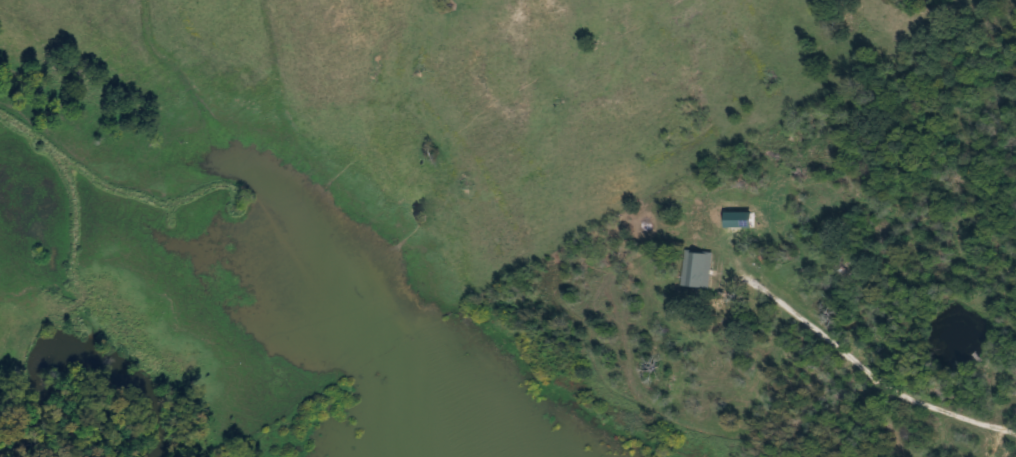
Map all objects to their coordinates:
building: (695, 268)

